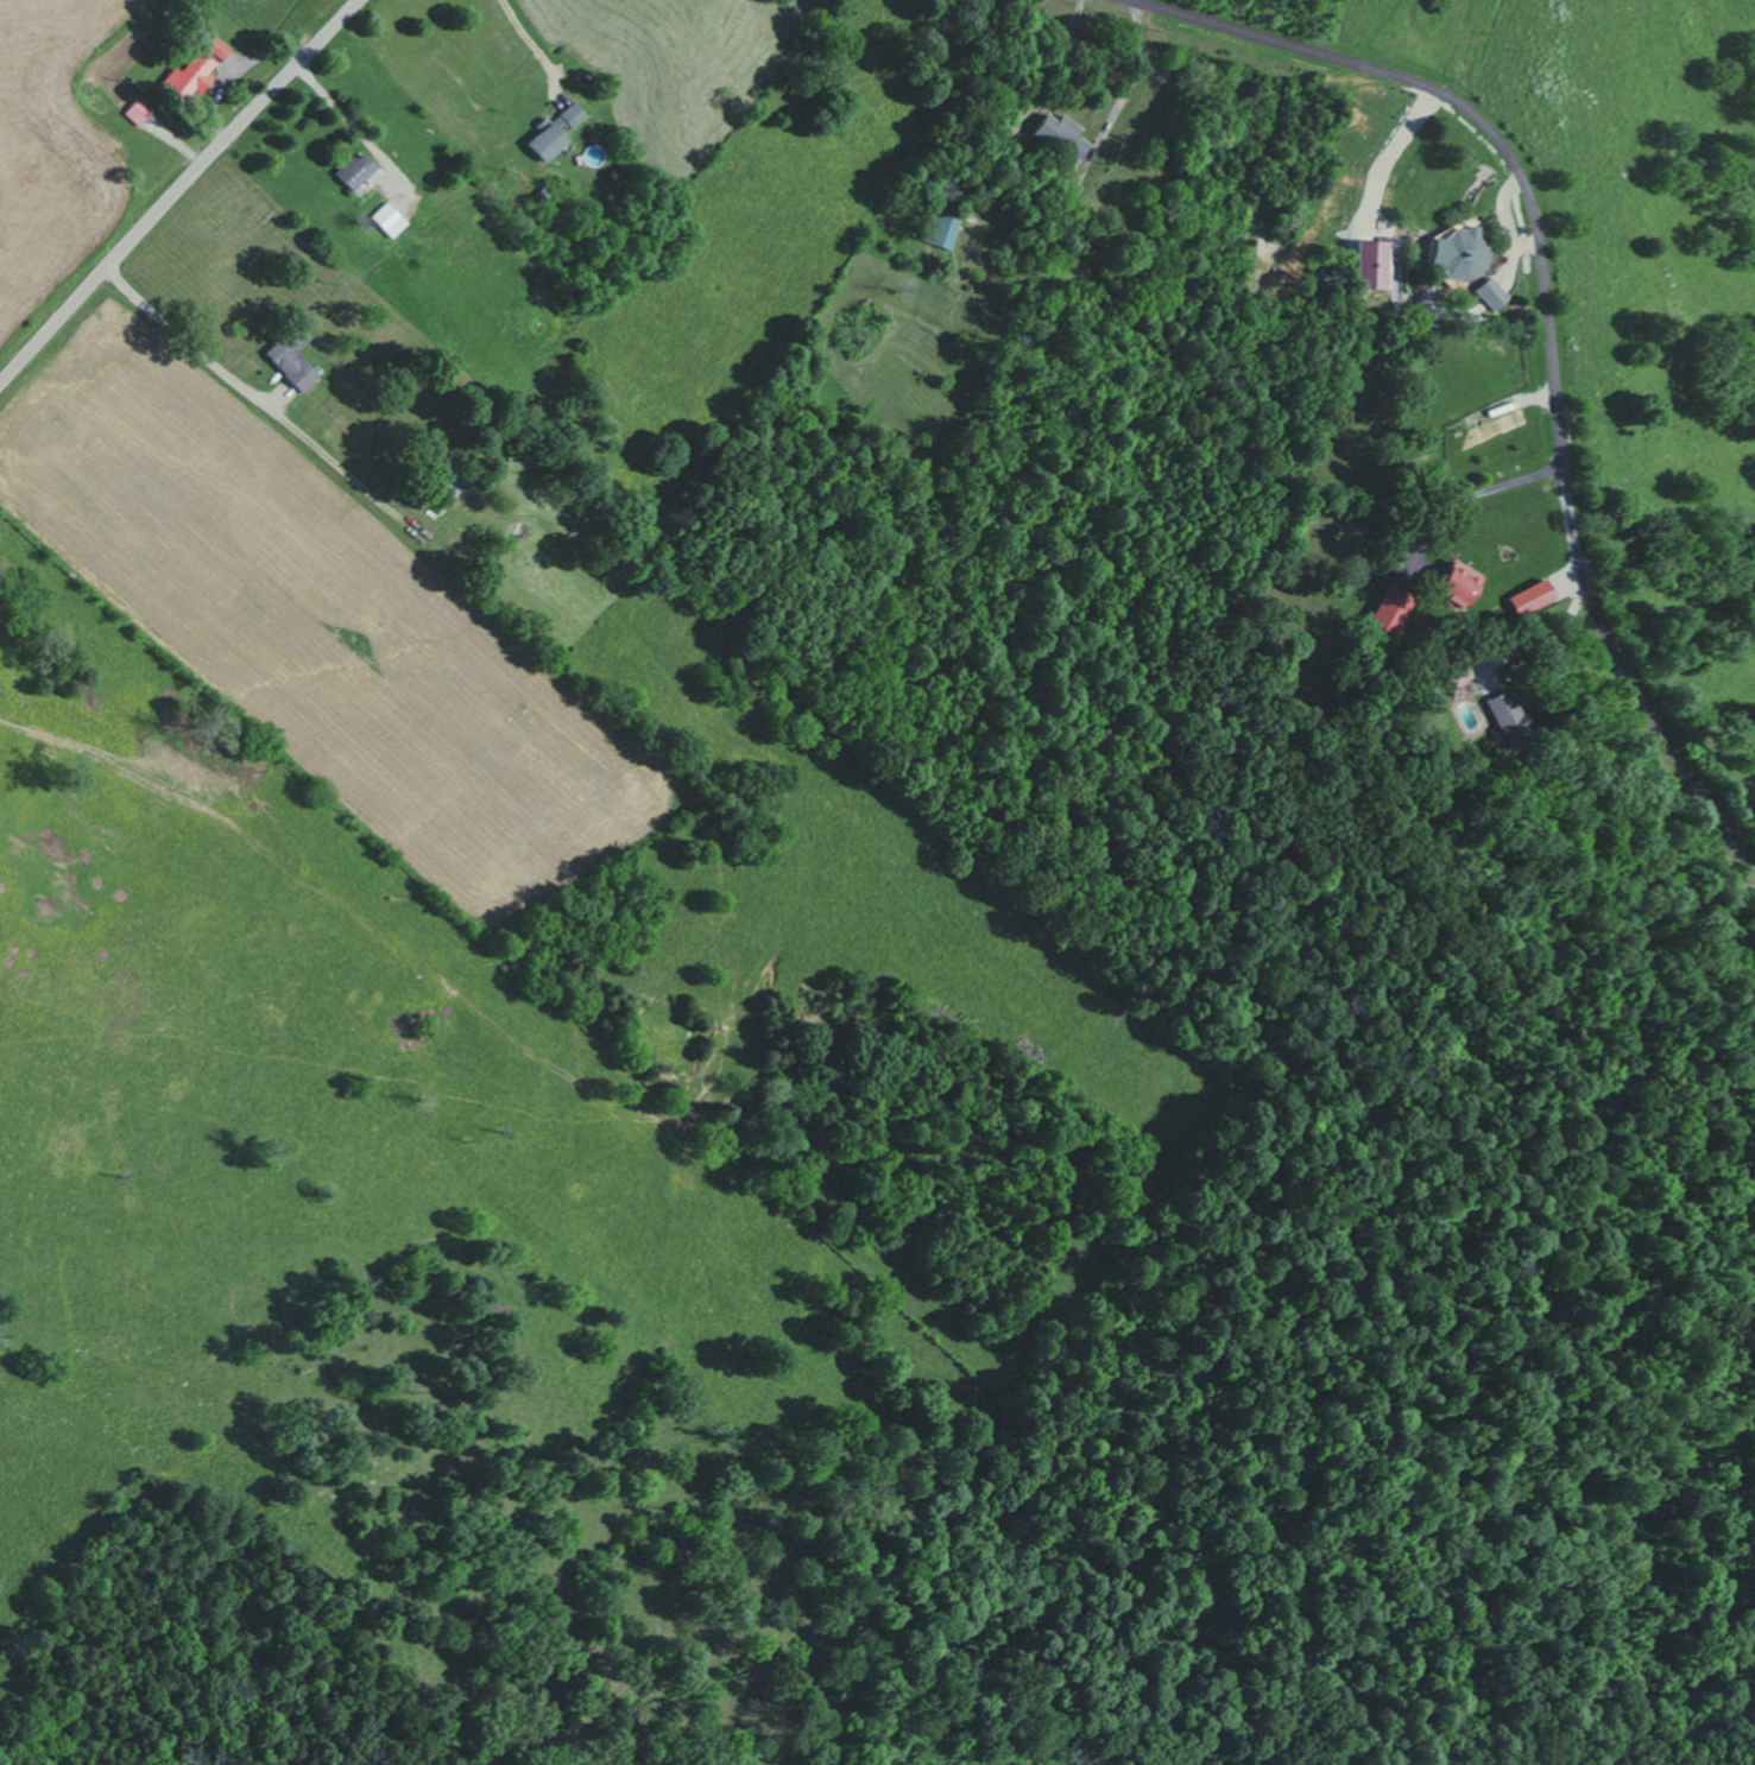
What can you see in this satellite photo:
road: (530, 38)
building: (196, 69)
road: (340, 108)
building: (138, 112)
building: (573, 115)
building: (1060, 134)
building: (545, 141)
building: (361, 175)
road: (178, 192)
building: (389, 220)
road: (997, 222)
building: (945, 232)
building: (1459, 251)
building: (1372, 264)
building: (1492, 292)
road: (1549, 322)
road: (184, 339)
building: (292, 358)
road: (1471, 495)
building: (1529, 597)
building: (1457, 677)

